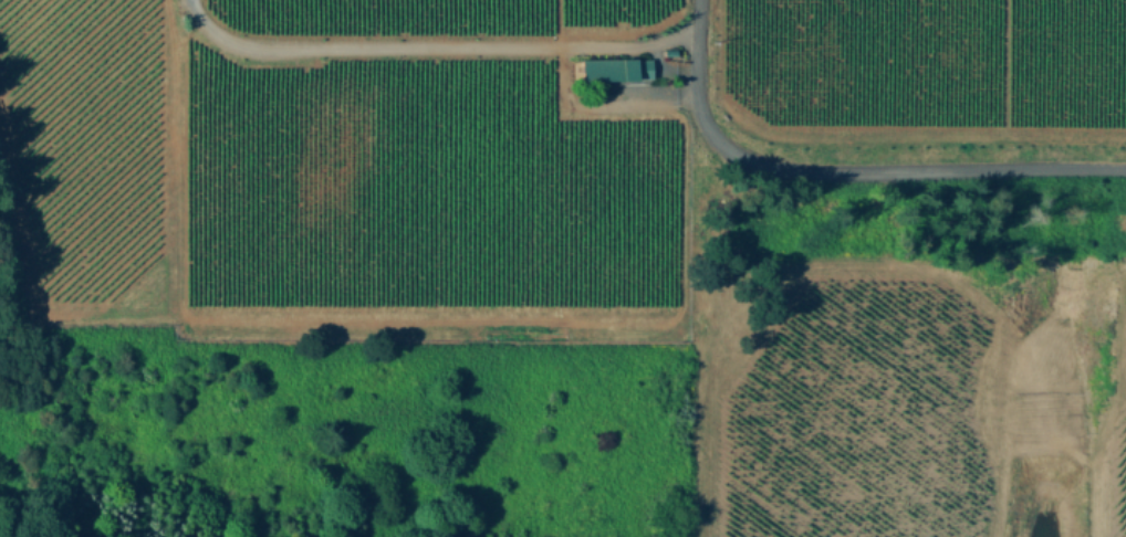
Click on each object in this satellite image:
road: (663, 34)
road: (408, 48)
building: (617, 69)
road: (656, 74)
road: (842, 175)

